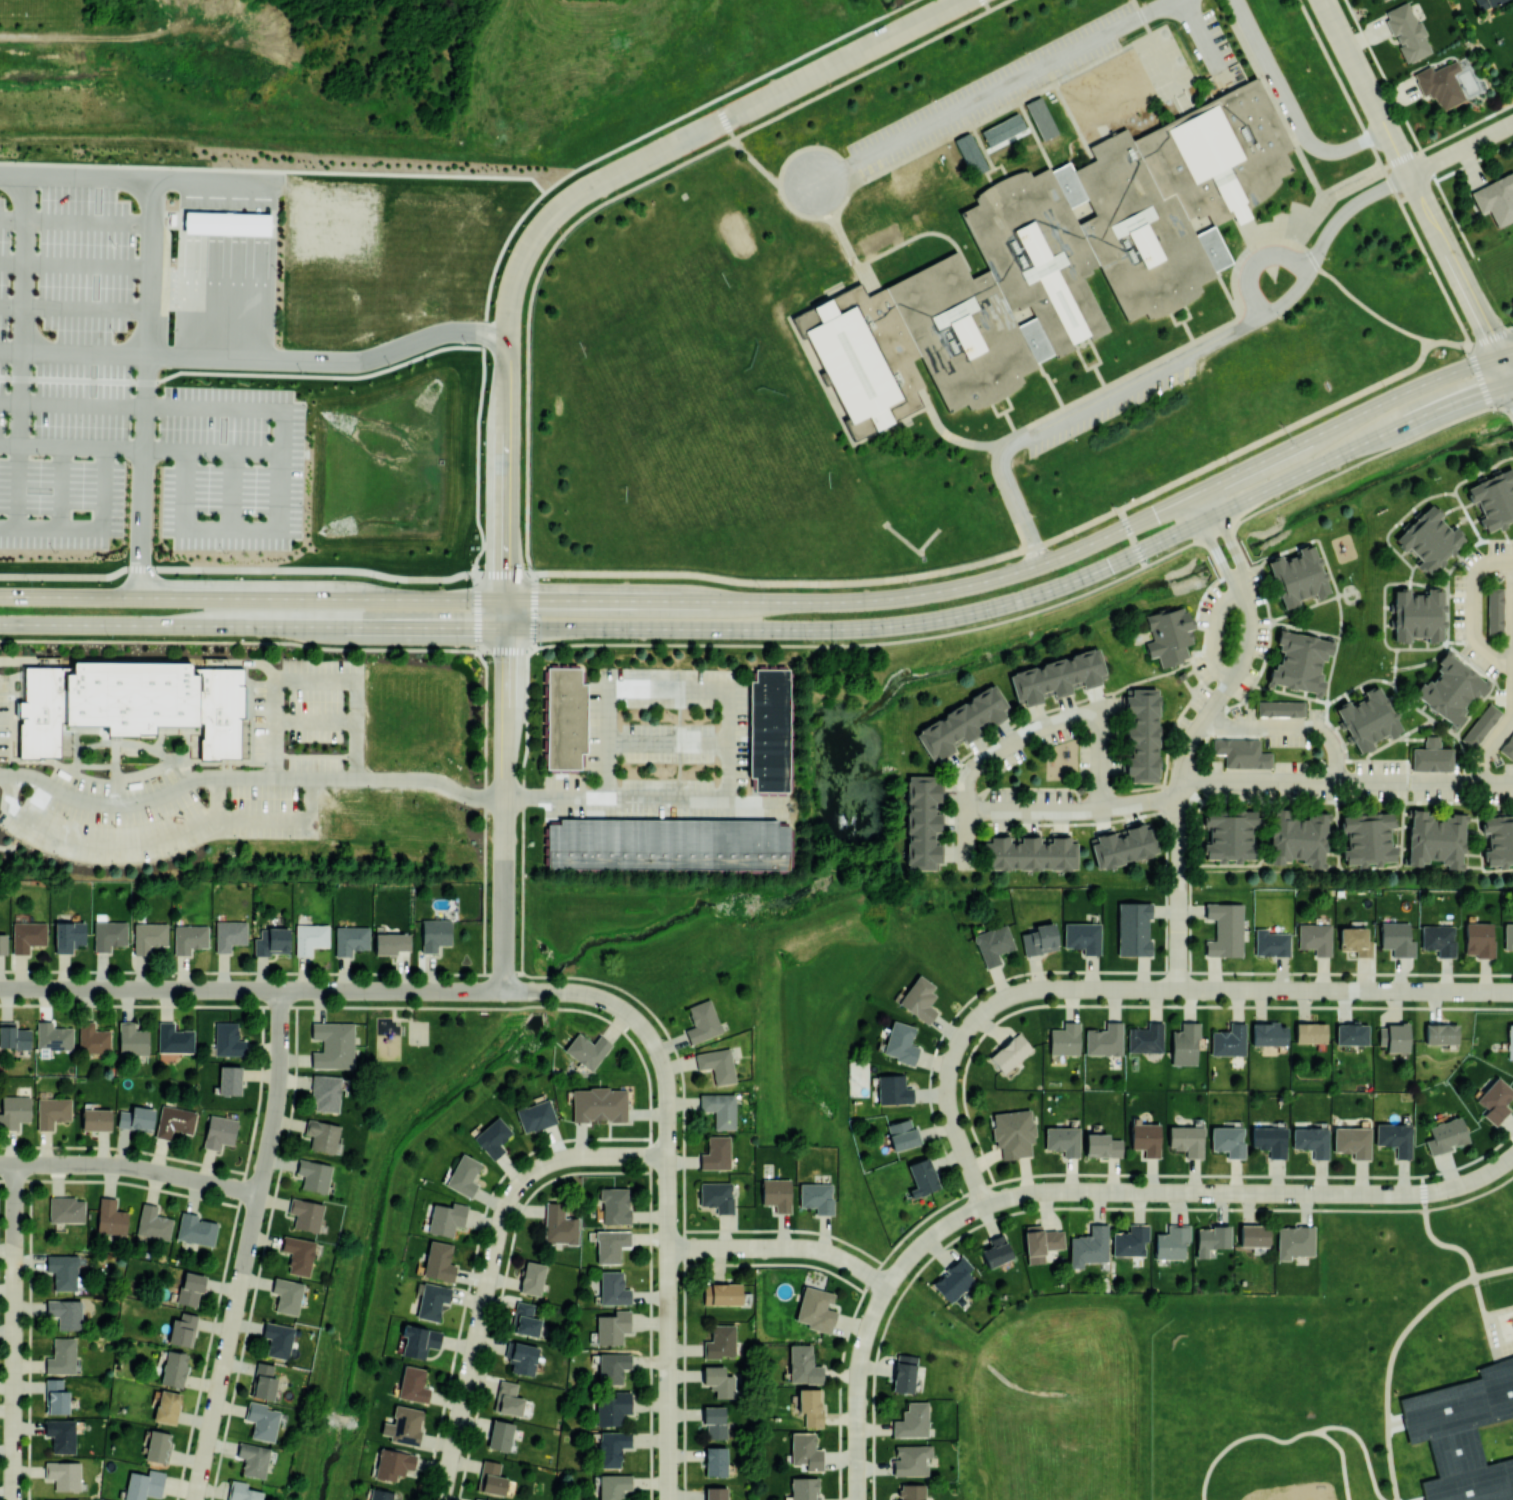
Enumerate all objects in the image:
building: (1377, 0)
building: (1485, 3)
building: (1407, 32)
road: (1202, 35)
park: (42, 39)
crop: (578, 67)
building: (1440, 84)
road: (993, 89)
road: (1290, 109)
building: (1002, 129)
road: (1461, 149)
road: (1411, 178)
road: (152, 188)
road: (578, 194)
building: (1496, 198)
building: (175, 220)
gas station: (227, 222)
road: (76, 223)
building: (227, 223)
road: (1324, 235)
building: (878, 239)
road: (1254, 261)
building: (1057, 263)
road: (75, 265)
road: (1366, 307)
road: (21, 310)
road: (75, 310)
road: (1502, 337)
road: (74, 352)
road: (208, 355)
road: (1506, 355)
traffic signals: (1499, 357)
road: (1506, 370)
road: (325, 377)
road: (73, 380)
road: (1512, 381)
traffic signals: (1512, 382)
road: (73, 402)
road: (1078, 409)
road: (1307, 418)
road: (232, 453)
road: (1269, 458)
road: (1358, 461)
road: (18, 488)
road: (62, 489)
road: (234, 492)
building: (1493, 498)
traffic signals: (1127, 526)
road: (91, 529)
road: (231, 530)
road: (1132, 537)
road: (1230, 538)
building: (1429, 538)
road: (1215, 545)
traffic signals: (1140, 553)
road: (252, 568)
building: (1297, 576)
road: (818, 584)
road: (1030, 597)
road: (252, 598)
traffic signals: (506, 600)
road: (775, 601)
road: (1474, 609)
building: (1494, 610)
building: (1418, 614)
road: (252, 626)
traffic signals: (506, 629)
road: (1215, 633)
building: (1168, 634)
road: (614, 644)
building: (1299, 661)
building: (1058, 676)
road: (317, 681)
road: (665, 684)
building: (1450, 689)
building: (131, 702)
building: (1280, 708)
building: (565, 717)
building: (1368, 719)
road: (318, 721)
building: (962, 722)
building: (1480, 725)
building: (769, 729)
road: (1289, 730)
road: (1025, 735)
building: (1141, 735)
road: (664, 741)
road: (1489, 746)
building: (1507, 747)
building: (1241, 752)
building: (1431, 756)
road: (249, 777)
road: (1180, 781)
road: (1346, 782)
road: (505, 795)
road: (220, 797)
road: (643, 799)
road: (1074, 810)
building: (921, 821)
building: (1229, 834)
road: (164, 837)
building: (1297, 838)
building: (1368, 838)
building: (1435, 839)
building: (1499, 839)
building: (668, 844)
building: (1122, 844)
building: (1028, 851)
road: (671, 871)
building: (1133, 928)
building: (1224, 929)
building: (434, 933)
building: (109, 934)
building: (229, 934)
building: (27, 935)
building: (67, 936)
building: (149, 936)
building: (1081, 936)
building: (1508, 936)
building: (189, 937)
building: (310, 937)
building: (1315, 937)
building: (1396, 938)
building: (350, 939)
building: (1038, 939)
building: (1438, 939)
building: (1478, 939)
building: (1354, 940)
building: (271, 941)
building: (391, 942)
building: (1270, 942)
building: (3, 943)
building: (992, 944)
road: (1140, 988)
road: (251, 989)
building: (918, 998)
building: (702, 1021)
park: (418, 1032)
building: (1268, 1033)
building: (1310, 1033)
building: (1352, 1033)
building: (1441, 1033)
building: (13, 1036)
building: (52, 1036)
building: (1394, 1037)
building: (92, 1038)
building: (173, 1038)
building: (1064, 1038)
building: (1145, 1038)
building: (132, 1039)
building: (228, 1039)
building: (1104, 1039)
building: (1229, 1040)
park: (399, 1041)
building: (1510, 1041)
building: (900, 1042)
building: (1184, 1043)
building: (333, 1044)
building: (586, 1049)
building: (1009, 1052)
building: (717, 1064)
building: (229, 1080)
building: (893, 1089)
building: (325, 1092)
building: (1495, 1100)
building: (598, 1104)
building: (720, 1109)
building: (13, 1110)
building: (52, 1111)
building: (535, 1115)
building: (136, 1118)
building: (96, 1119)
building: (174, 1121)
building: (218, 1131)
building: (1012, 1132)
building: (322, 1134)
building: (902, 1134)
building: (1445, 1135)
building: (492, 1137)
building: (1394, 1137)
building: (1146, 1138)
building: (1186, 1139)
building: (1062, 1140)
building: (1227, 1140)
building: (1269, 1140)
building: (1311, 1140)
building: (1352, 1141)
building: (1101, 1145)
building: (715, 1153)
road: (130, 1166)
building: (314, 1174)
building: (463, 1174)
building: (921, 1177)
road: (668, 1186)
road: (1188, 1192)
building: (777, 1194)
building: (716, 1196)
building: (816, 1197)
building: (614, 1205)
building: (65, 1209)
building: (306, 1213)
building: (110, 1217)
building: (446, 1218)
building: (153, 1222)
building: (559, 1224)
building: (195, 1229)
building: (1254, 1235)
building: (1211, 1238)
road: (1432, 1238)
building: (1130, 1240)
building: (1171, 1241)
building: (1294, 1241)
building: (1040, 1242)
building: (610, 1244)
road: (247, 1246)
building: (1088, 1246)
road: (782, 1247)
building: (995, 1251)
building: (299, 1254)
road: (474, 1257)
building: (438, 1260)
road: (491, 1263)
building: (62, 1270)
building: (532, 1277)
building: (954, 1279)
road: (503, 1284)
building: (190, 1288)
building: (613, 1288)
building: (721, 1293)
building: (286, 1295)
building: (431, 1300)
building: (815, 1309)
building: (65, 1313)
building: (524, 1319)
building: (612, 1327)
building: (182, 1329)
road: (13, 1331)
building: (277, 1339)
building: (418, 1340)
building: (719, 1341)
road: (1393, 1350)
building: (61, 1356)
building: (521, 1357)
building: (803, 1365)
building: (613, 1367)
building: (173, 1368)
building: (904, 1372)
building: (718, 1380)
building: (263, 1381)
building: (413, 1384)
road: (857, 1390)
park: (1044, 1393)
building: (55, 1396)
building: (507, 1398)
building: (166, 1406)
building: (809, 1406)
building: (613, 1408)
building: (261, 1420)
building: (911, 1420)
building: (714, 1421)
building: (404, 1425)
building: (60, 1434)
building: (1467, 1434)
building: (500, 1435)
road: (1282, 1442)
building: (156, 1446)
building: (612, 1446)
road: (1364, 1447)
building: (805, 1450)
building: (253, 1458)
building: (910, 1459)
building: (716, 1460)
building: (393, 1463)
building: (63, 1474)
building: (491, 1477)
building: (143, 1485)
building: (613, 1485)
building: (803, 1489)
building: (242, 1491)
building: (911, 1491)
park: (1291, 1491)
building: (715, 1493)
building: (380, 1494)
building: (55, 1499)
building: (477, 1499)

